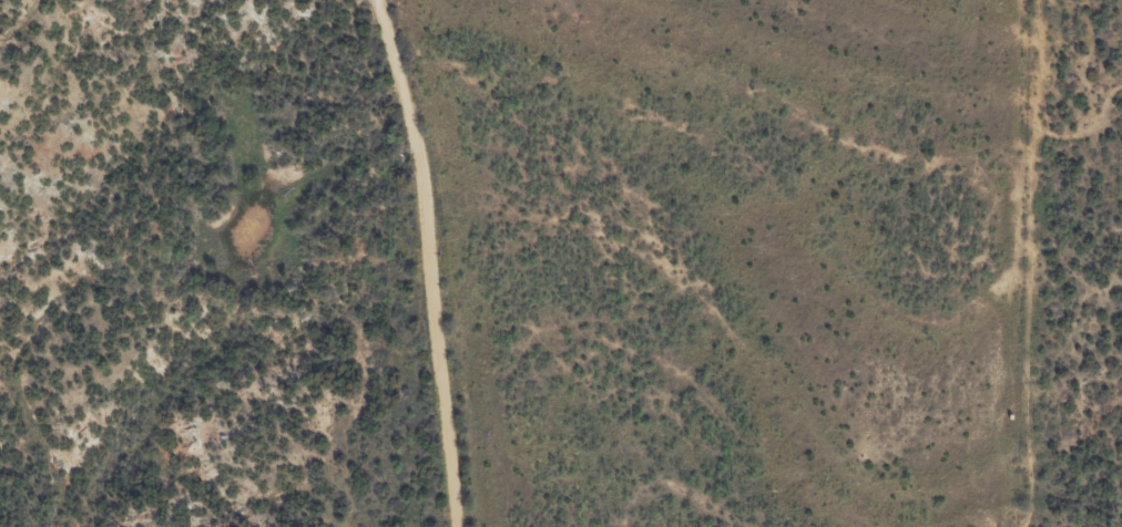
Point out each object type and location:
road: (433, 260)

